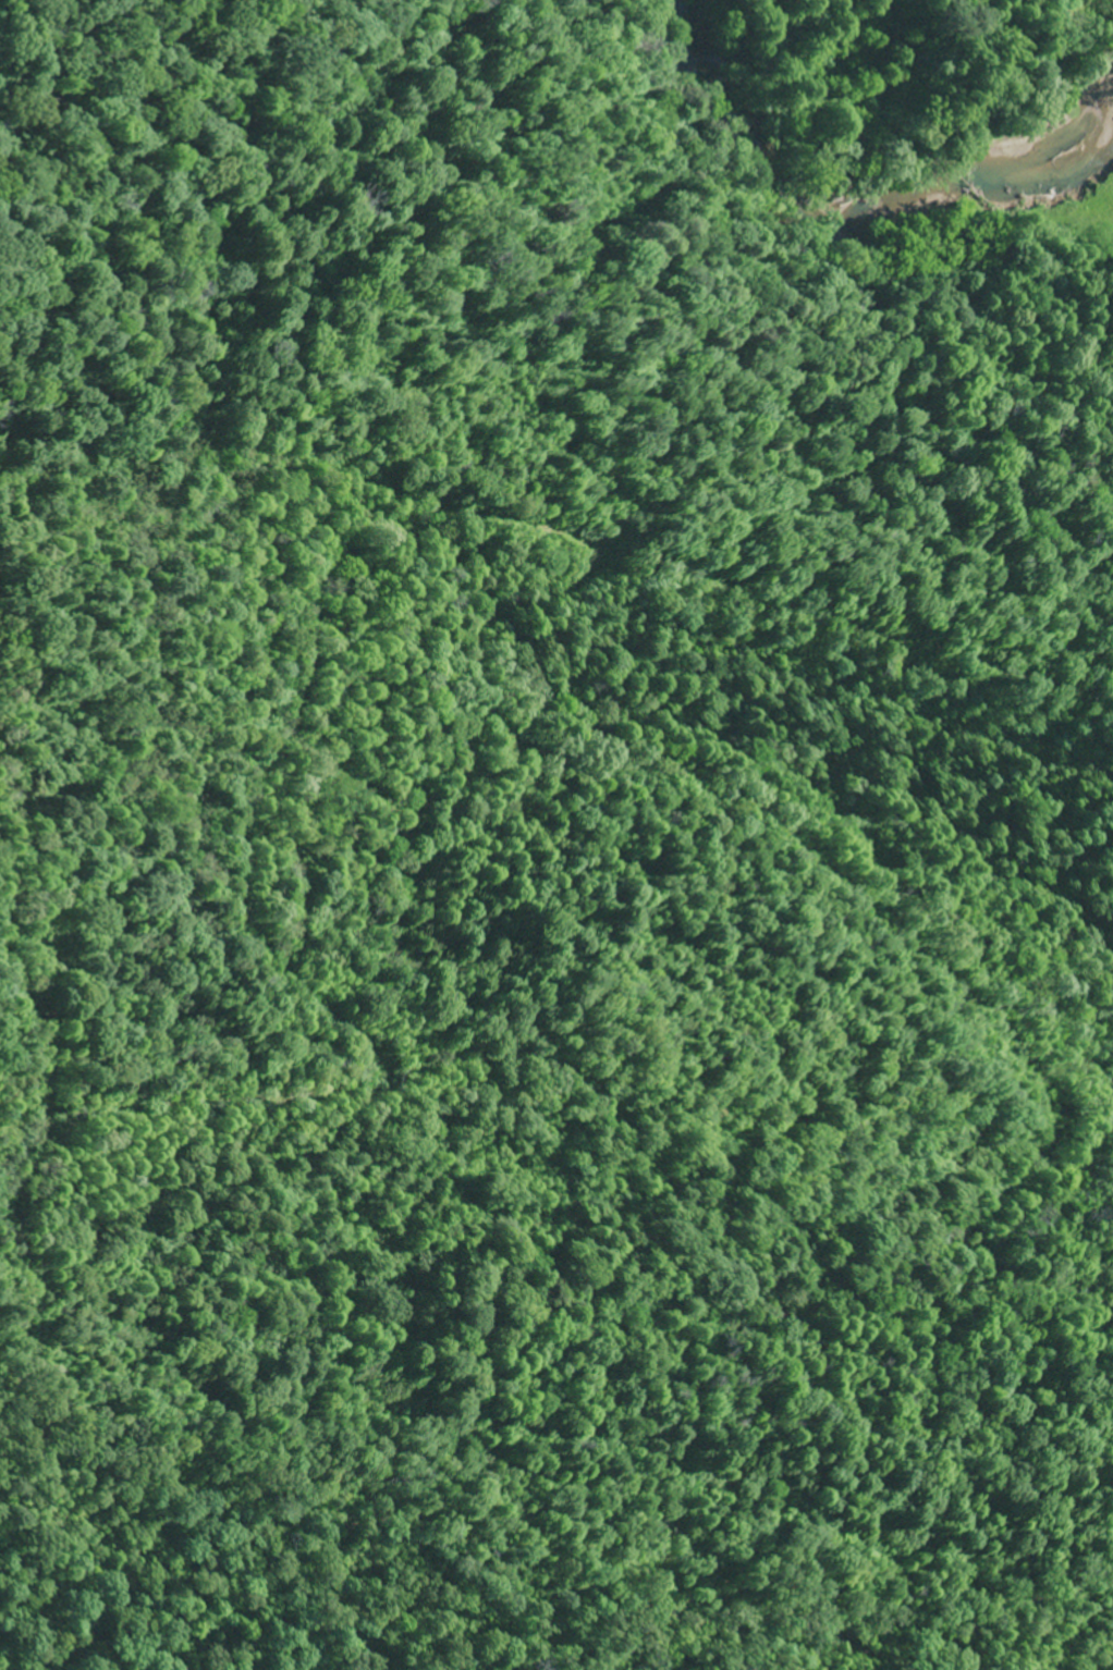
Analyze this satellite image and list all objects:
river: (852, 184)

